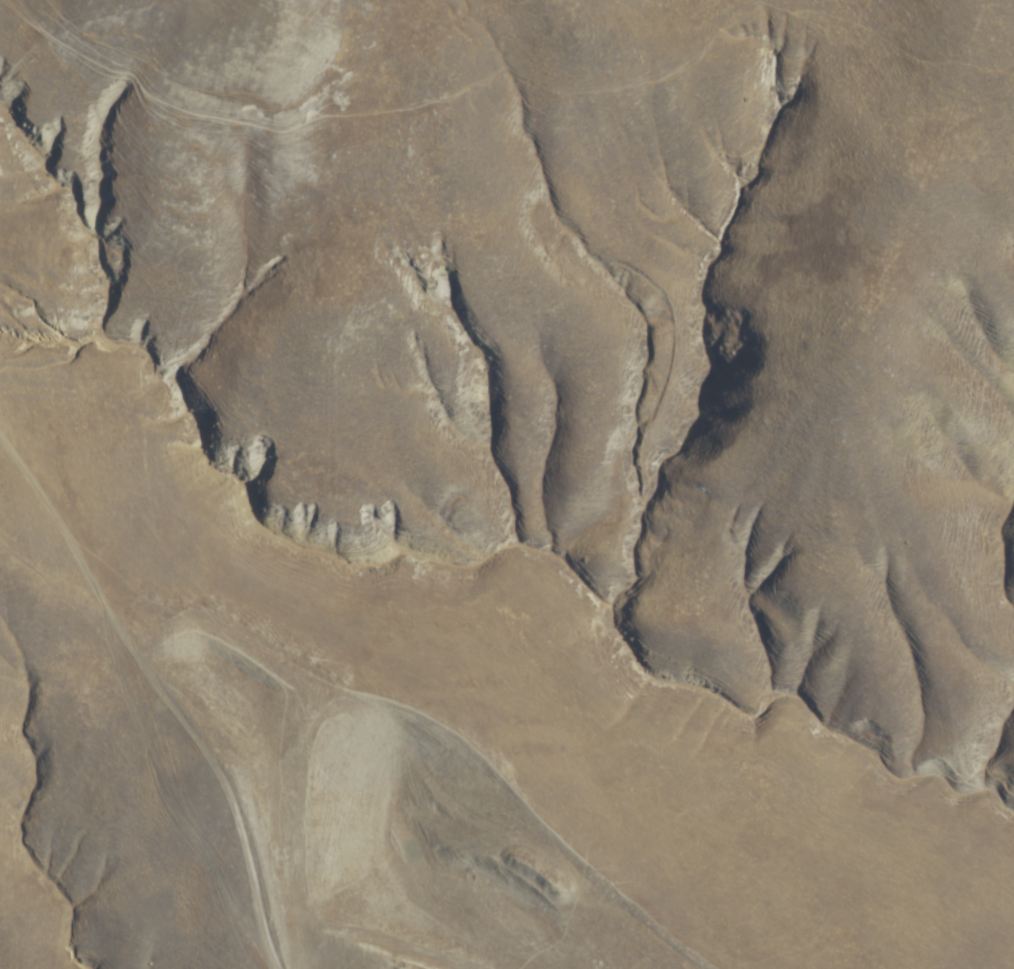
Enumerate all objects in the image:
road: (309, 81)
road: (107, 806)

